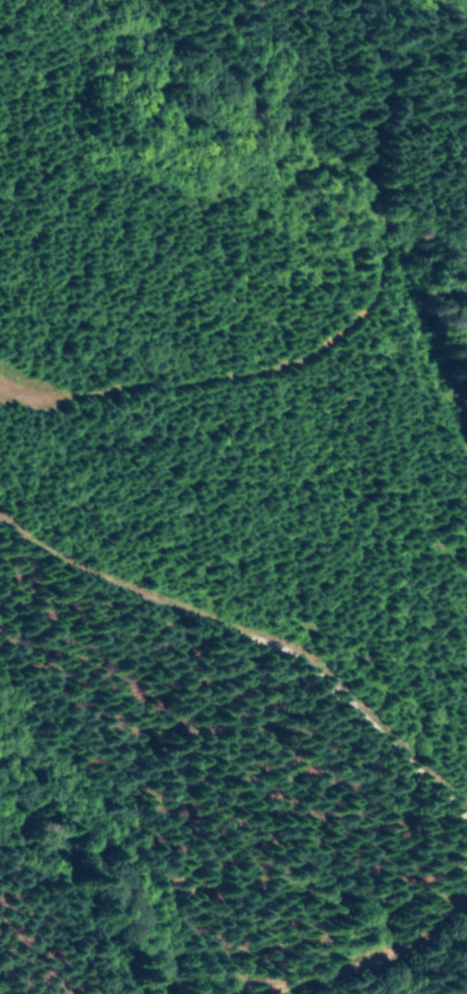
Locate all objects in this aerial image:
road: (258, 640)
road: (368, 942)

